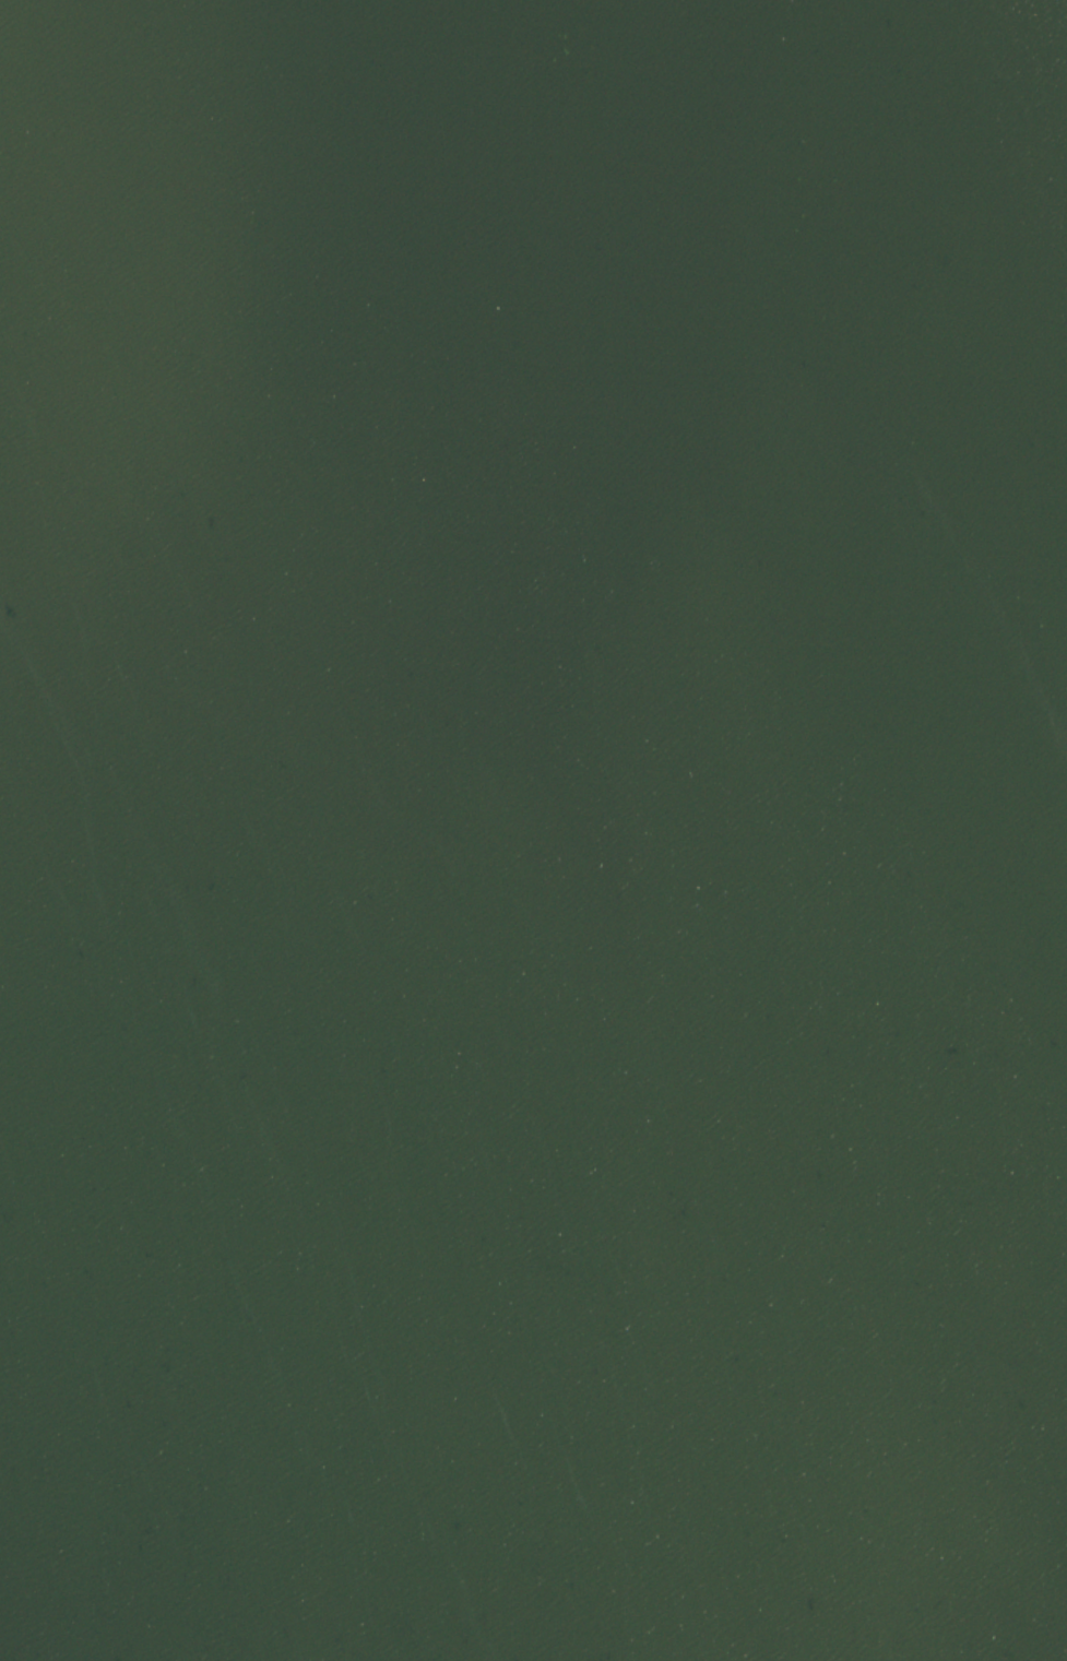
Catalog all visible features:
river: (378, 995)

